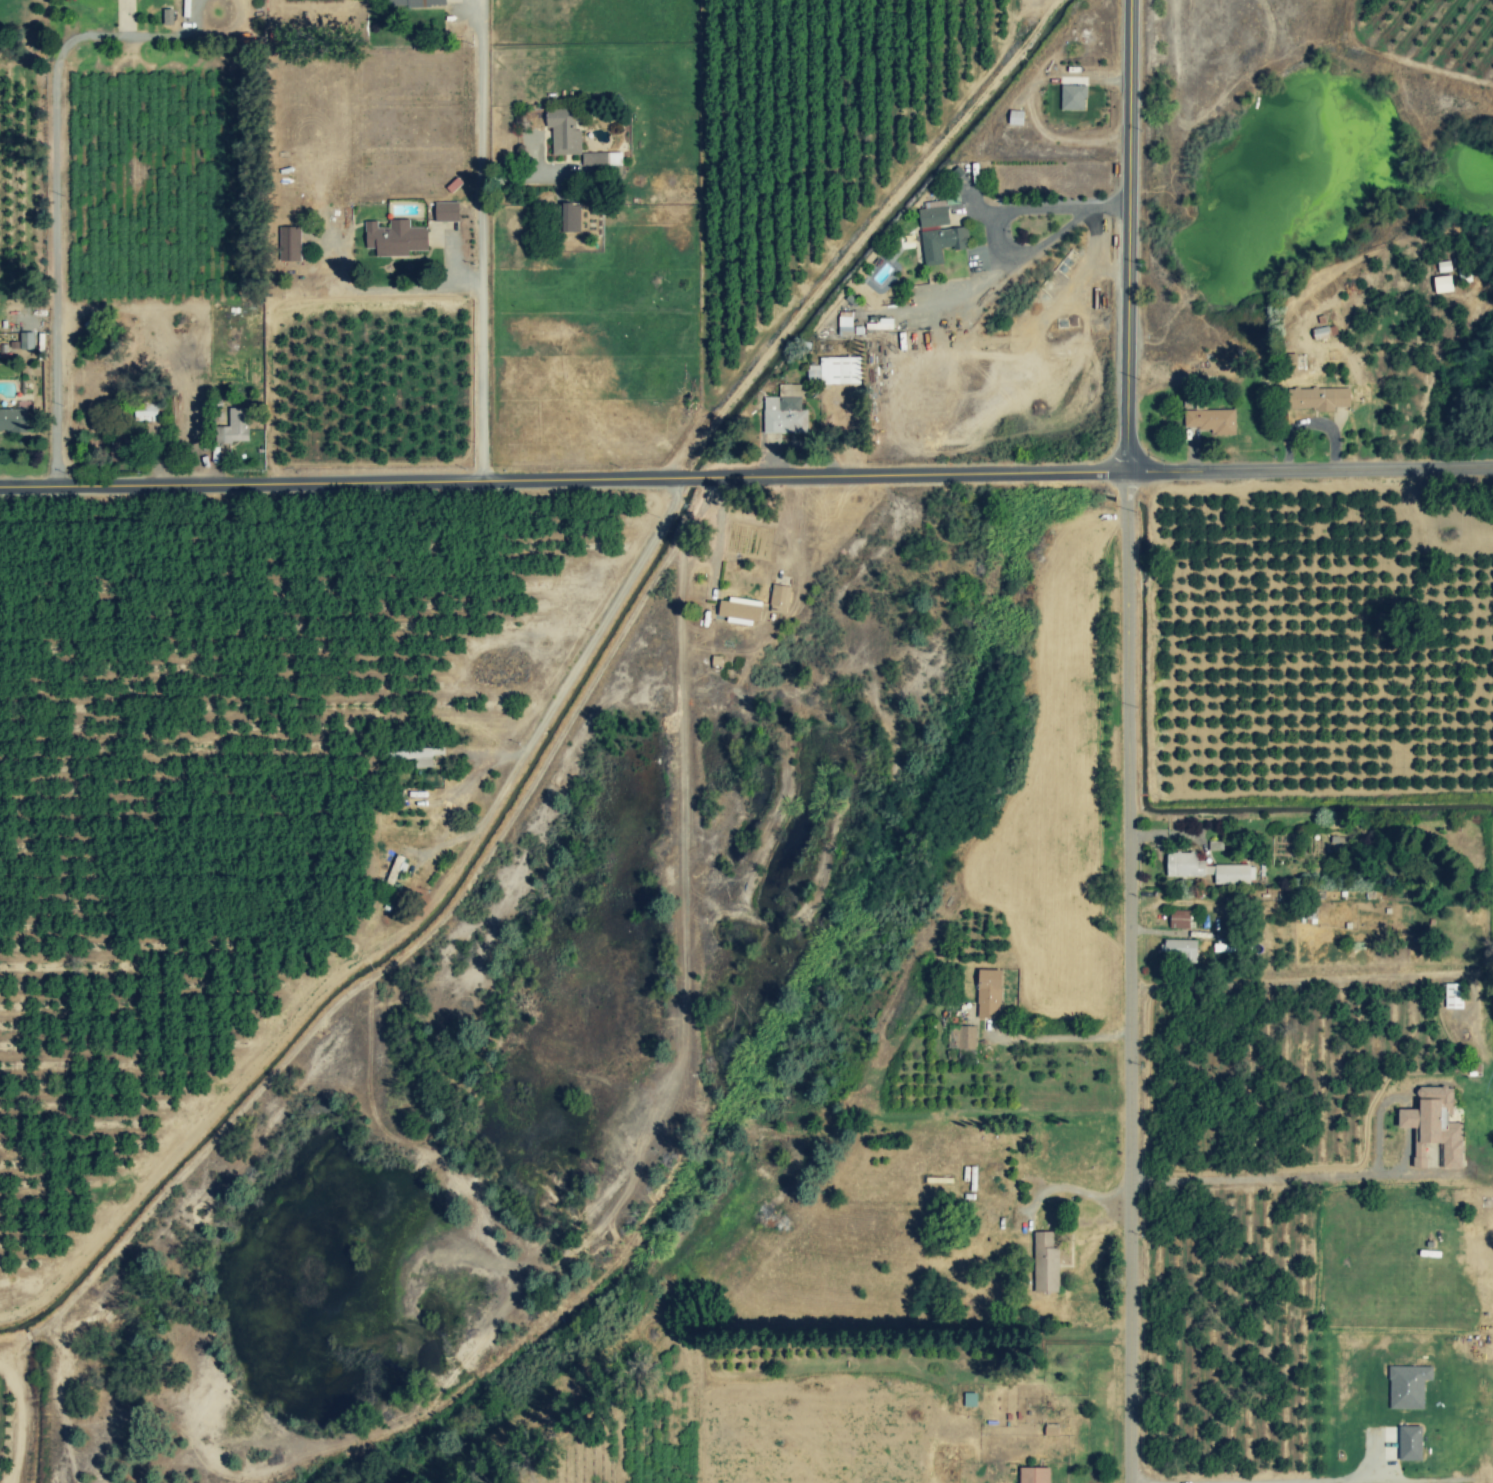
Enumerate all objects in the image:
building: (415, 4)
building: (166, 18)
building: (1071, 99)
building: (563, 134)
road: (54, 211)
building: (444, 213)
building: (932, 215)
building: (569, 219)
road: (995, 230)
building: (394, 239)
road: (480, 239)
building: (940, 244)
building: (288, 245)
building: (1441, 285)
road: (385, 289)
building: (878, 326)
building: (1320, 334)
building: (25, 342)
building: (1291, 363)
building: (834, 372)
building: (1317, 399)
building: (784, 414)
building: (144, 417)
building: (13, 422)
building: (1210, 422)
building: (233, 428)
road: (746, 470)
road: (720, 525)
building: (778, 600)
building: (738, 610)
road: (584, 651)
road: (1134, 741)
building: (410, 758)
building: (1206, 871)
building: (1178, 920)
building: (1178, 952)
building: (988, 995)
building: (1453, 997)
road: (1062, 1036)
building: (961, 1038)
building: (1433, 1129)
road: (1286, 1179)
road: (1077, 1188)
building: (1044, 1265)
building: (968, 1401)
building: (1409, 1444)
building: (1032, 1475)
road: (1262, 1481)

